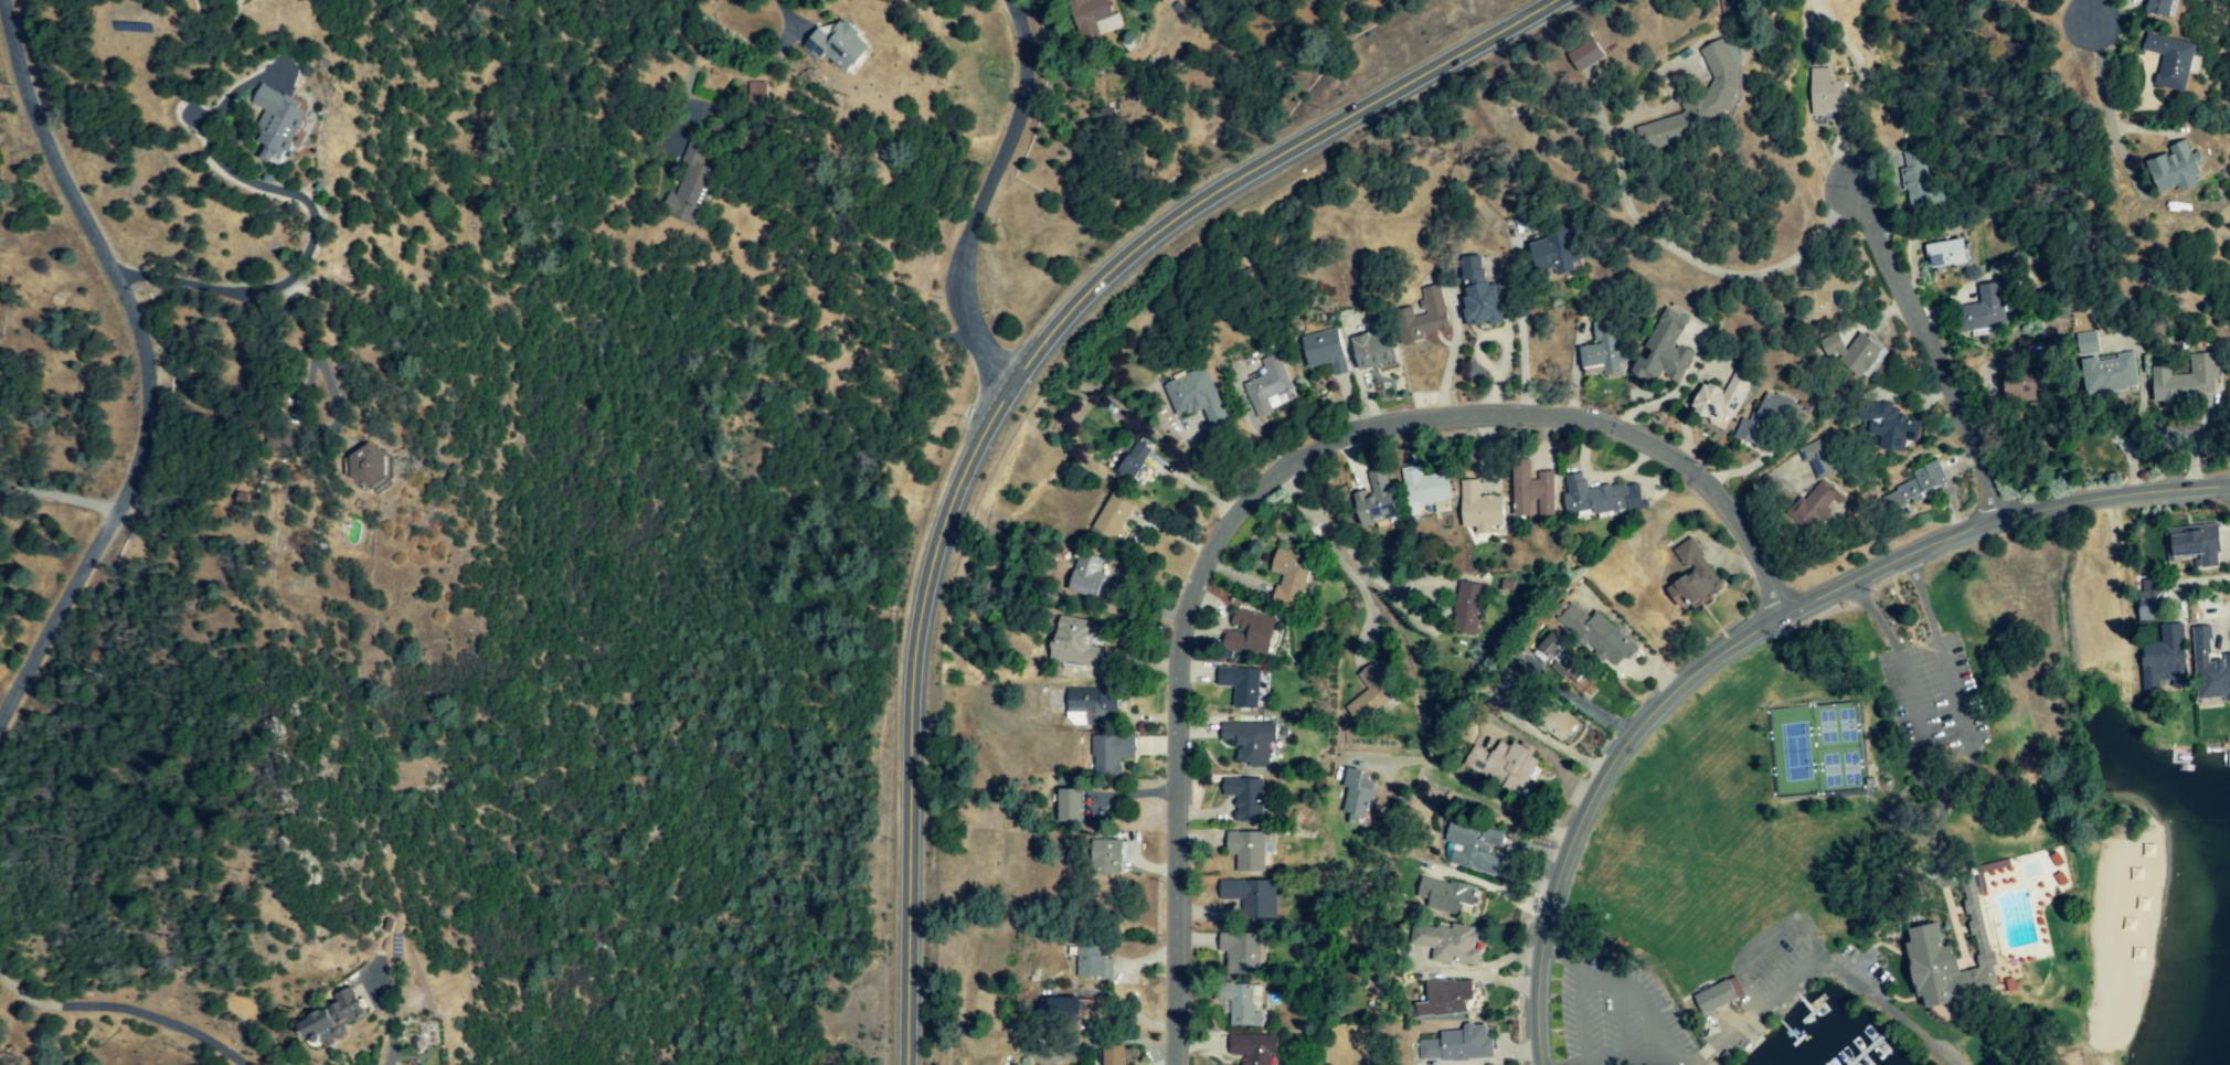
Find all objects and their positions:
building: (1052, 1)
building: (2155, 8)
road: (2091, 17)
building: (1097, 18)
building: (841, 45)
building: (1590, 53)
building: (2167, 61)
building: (1827, 92)
building: (1700, 102)
road: (2107, 110)
road: (1857, 114)
building: (284, 121)
building: (2171, 168)
building: (1918, 182)
building: (691, 187)
road: (981, 201)
building: (1555, 253)
building: (1947, 253)
road: (285, 285)
building: (1824, 291)
building: (1479, 295)
building: (1988, 308)
building: (1423, 317)
road: (1521, 337)
road: (309, 341)
building: (1377, 344)
building: (1666, 349)
building: (1604, 350)
building: (1326, 351)
building: (1856, 352)
road: (1925, 352)
road: (141, 364)
building: (2105, 366)
building: (2185, 381)
building: (2017, 382)
building: (1270, 387)
building: (1197, 396)
building: (1723, 397)
road: (1013, 400)
building: (1893, 428)
building: (1136, 461)
building: (371, 465)
road: (1267, 481)
building: (1825, 482)
building: (1918, 484)
building: (1426, 489)
building: (1532, 491)
road: (1292, 494)
building: (1601, 497)
road: (54, 498)
building: (1380, 499)
building: (1480, 509)
building: (1116, 518)
building: (2196, 544)
building: (1697, 573)
building: (1090, 575)
road: (1349, 576)
building: (1292, 577)
road: (1920, 596)
road: (1400, 605)
building: (2152, 606)
building: (1468, 608)
road: (1872, 616)
building: (1252, 631)
road: (1750, 632)
building: (1597, 635)
building: (1077, 642)
building: (2167, 660)
building: (1564, 662)
building: (2210, 668)
building: (1242, 685)
building: (1526, 691)
building: (1371, 695)
building: (1092, 706)
building: (1557, 720)
building: (1253, 742)
road: (1947, 742)
building: (1112, 754)
building: (1507, 765)
building: (1359, 792)
building: (1246, 798)
park: (2006, 805)
building: (1072, 806)
building: (1476, 848)
building: (1247, 851)
building: (1108, 854)
building: (1446, 895)
building: (1252, 897)
building: (1452, 942)
building: (1242, 952)
building: (1091, 958)
building: (1955, 958)
building: (1717, 997)
building: (1447, 998)
building: (1243, 1003)
road: (1645, 1008)
building: (1063, 1009)
road: (123, 1011)
building: (336, 1015)
road: (391, 1033)
building: (1458, 1045)
building: (1255, 1048)
building: (1114, 1055)
building: (954, 1062)

